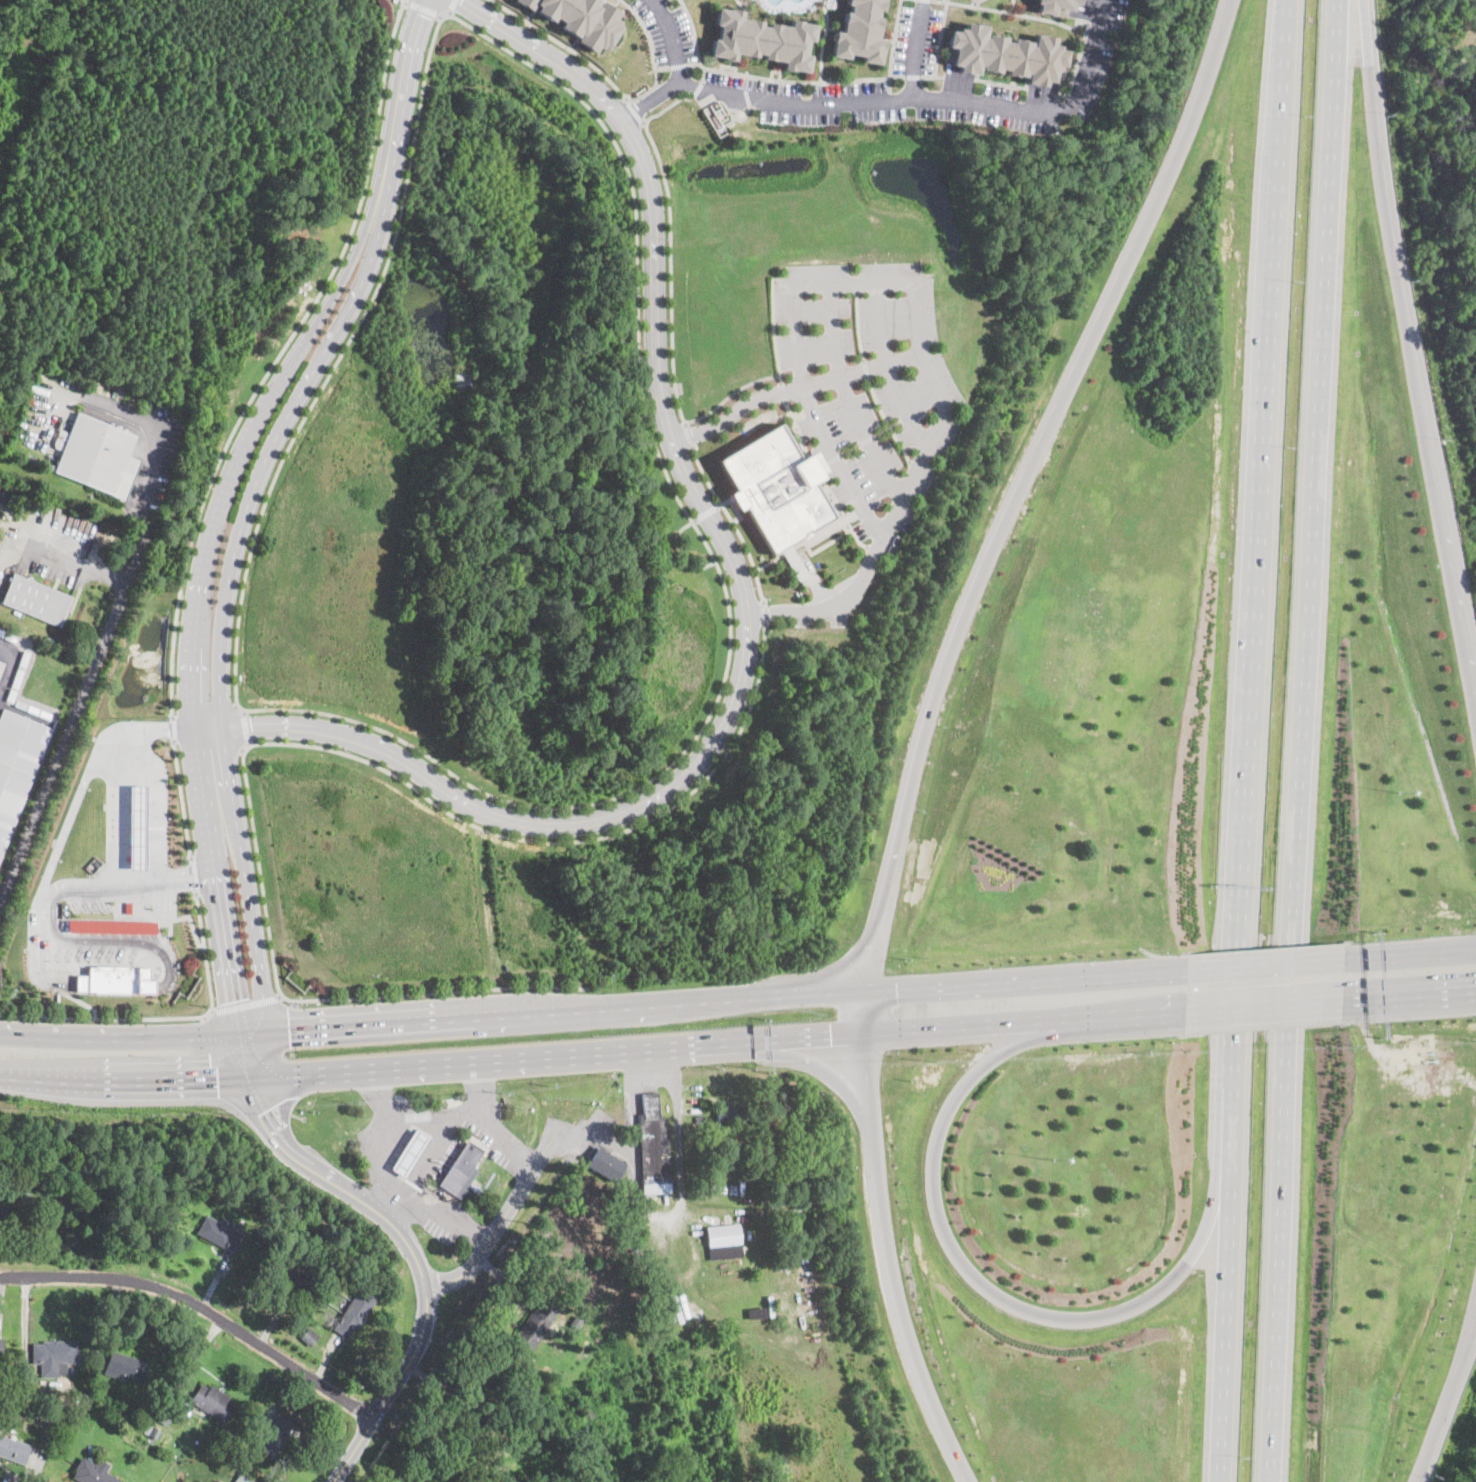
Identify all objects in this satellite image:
building: (831, 3)
road: (450, 5)
building: (1054, 6)
road: (422, 7)
building: (585, 19)
building: (860, 31)
road: (672, 36)
building: (764, 38)
road: (564, 44)
road: (918, 50)
building: (1004, 53)
road: (894, 100)
road: (666, 107)
road: (634, 110)
road: (635, 219)
road: (670, 270)
road: (773, 330)
road: (277, 357)
road: (887, 368)
road: (863, 369)
road: (1407, 370)
road: (782, 392)
road: (729, 393)
road: (845, 396)
road: (735, 409)
road: (688, 433)
road: (153, 437)
building: (98, 456)
road: (914, 477)
road: (821, 478)
building: (778, 491)
road: (706, 511)
road: (731, 521)
road: (1005, 521)
road: (240, 540)
road: (211, 543)
road: (84, 569)
building: (36, 600)
road: (835, 604)
road: (745, 606)
road: (764, 612)
building: (1, 665)
road: (10, 666)
building: (21, 668)
building: (11, 695)
building: (21, 704)
building: (33, 709)
building: (45, 713)
road: (173, 727)
road: (247, 727)
road: (149, 728)
road: (62, 740)
road: (1304, 740)
road: (1251, 741)
road: (299, 742)
building: (17, 766)
road: (181, 798)
road: (157, 804)
road: (72, 807)
road: (116, 811)
road: (193, 867)
road: (182, 870)
road: (204, 873)
road: (196, 882)
road: (184, 884)
road: (99, 886)
building: (112, 926)
road: (1411, 956)
road: (1267, 966)
building: (115, 979)
road: (1046, 980)
traffic signals: (892, 995)
road: (1409, 997)
traffic signals: (230, 1000)
road: (80, 1001)
road: (245, 1003)
road: (1263, 1006)
road: (1151, 1013)
road: (168, 1016)
road: (452, 1021)
traffic signals: (829, 1032)
traffic signals: (290, 1033)
road: (558, 1053)
road: (817, 1065)
traffic signals: (217, 1082)
traffic signals: (268, 1111)
building: (730, 1115)
building: (698, 1118)
road: (435, 1120)
road: (505, 1136)
road: (678, 1137)
road: (547, 1147)
building: (653, 1147)
building: (410, 1153)
building: (605, 1164)
building: (461, 1171)
road: (419, 1173)
building: (7, 1186)
road: (404, 1189)
building: (285, 1201)
building: (3, 1215)
building: (220, 1233)
road: (883, 1234)
building: (724, 1242)
building: (349, 1262)
road: (964, 1263)
building: (291, 1273)
road: (421, 1274)
road: (198, 1306)
building: (357, 1309)
building: (311, 1314)
building: (756, 1314)
building: (575, 1323)
building: (537, 1324)
building: (309, 1337)
building: (1, 1346)
building: (54, 1356)
building: (125, 1368)
building: (68, 1384)
road: (1449, 1397)
building: (86, 1398)
building: (48, 1399)
building: (213, 1402)
building: (163, 1416)
building: (133, 1425)
building: (151, 1430)
building: (472, 1432)
building: (274, 1436)
building: (13, 1450)
building: (92, 1472)
building: (463, 1475)
building: (507, 1478)
building: (241, 1479)

